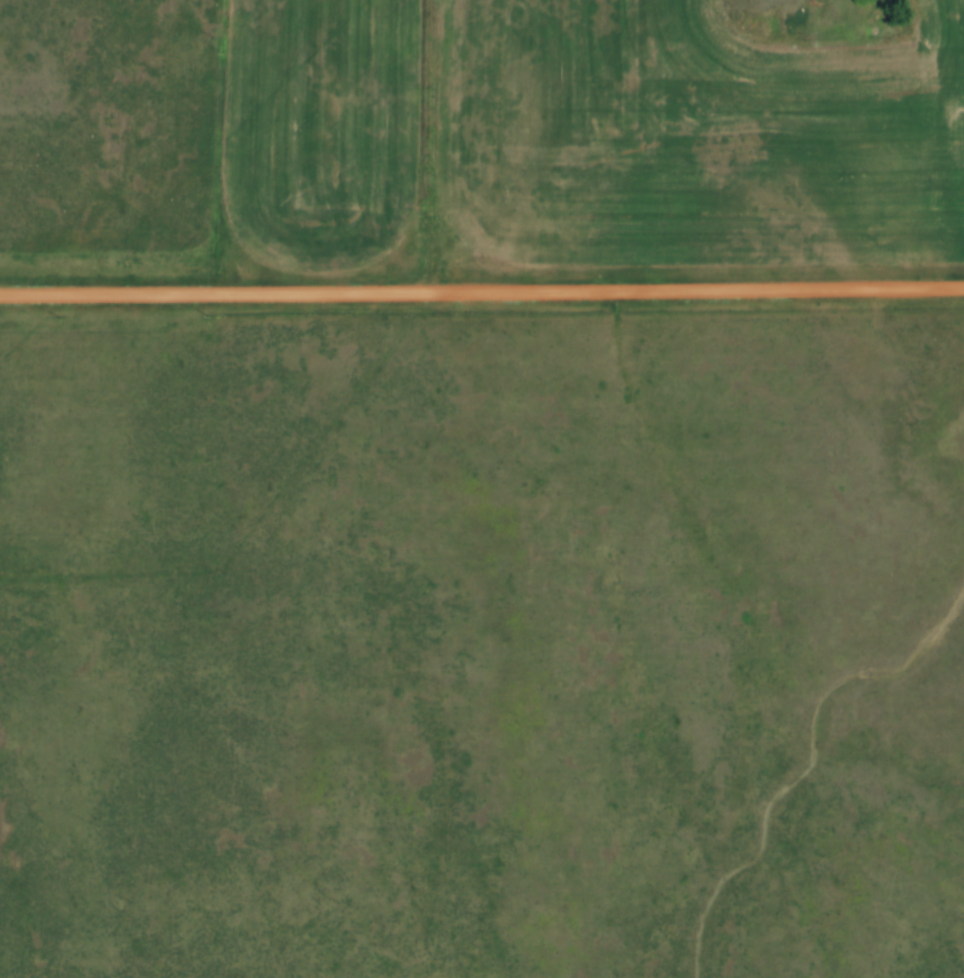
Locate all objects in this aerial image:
road: (482, 295)

